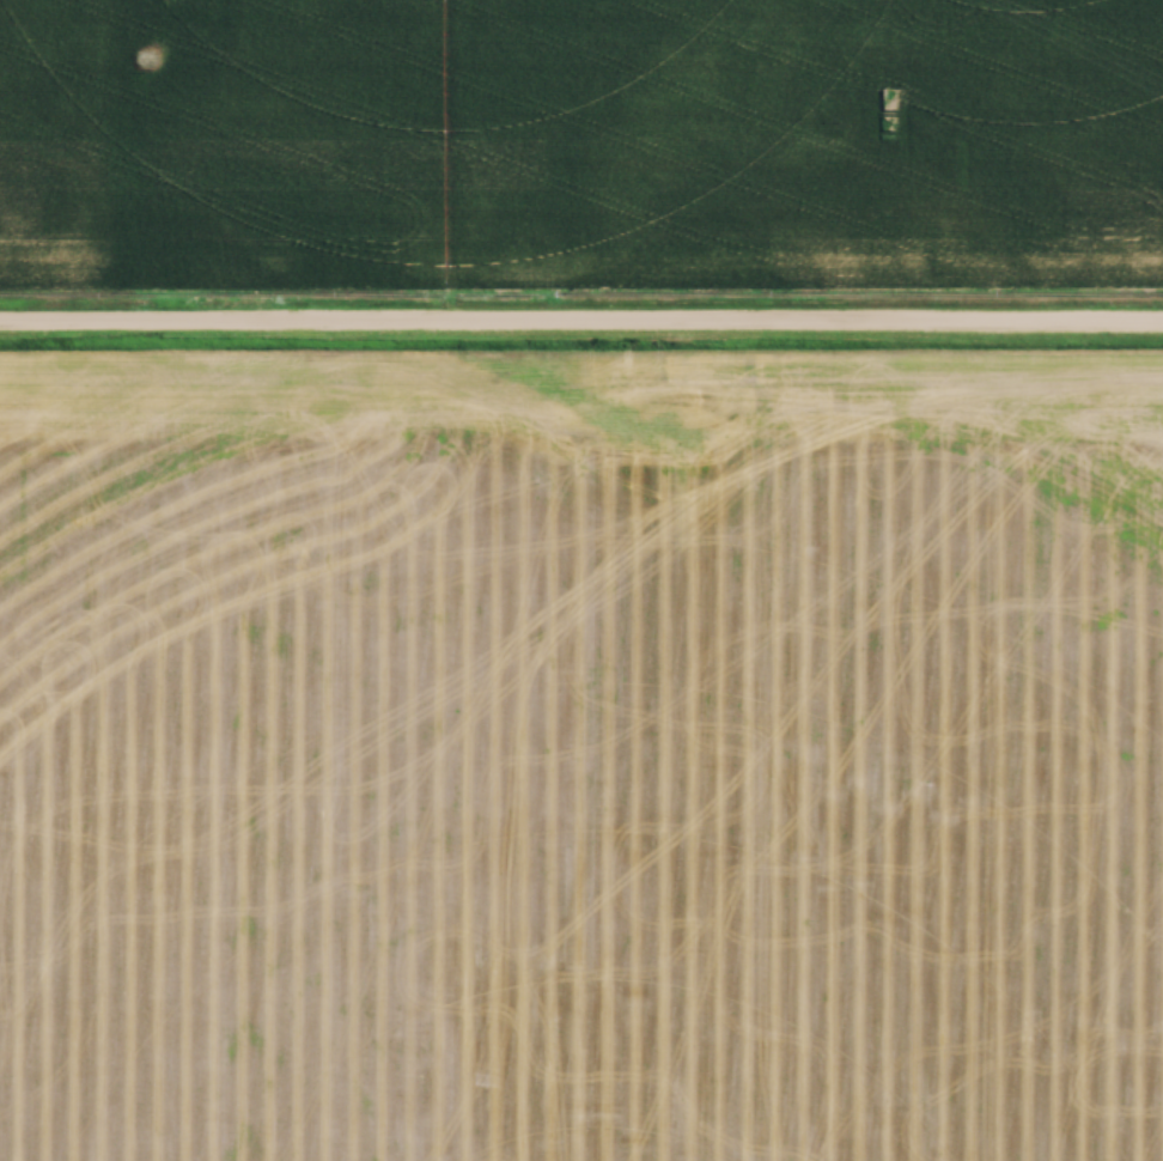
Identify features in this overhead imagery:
road: (581, 324)

